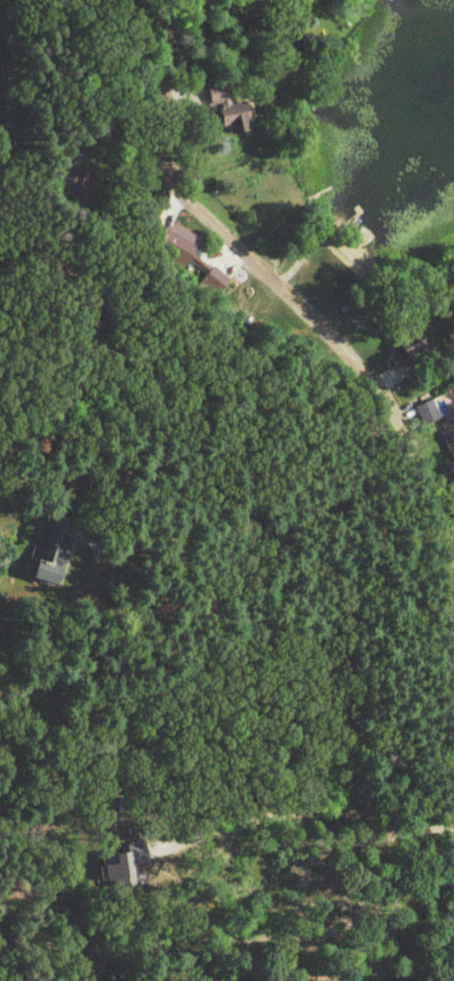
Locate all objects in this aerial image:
road: (119, 103)
building: (223, 113)
building: (173, 250)
building: (214, 276)
road: (295, 291)
building: (400, 345)
building: (421, 416)
building: (446, 441)
building: (44, 570)
road: (319, 823)
building: (125, 870)

